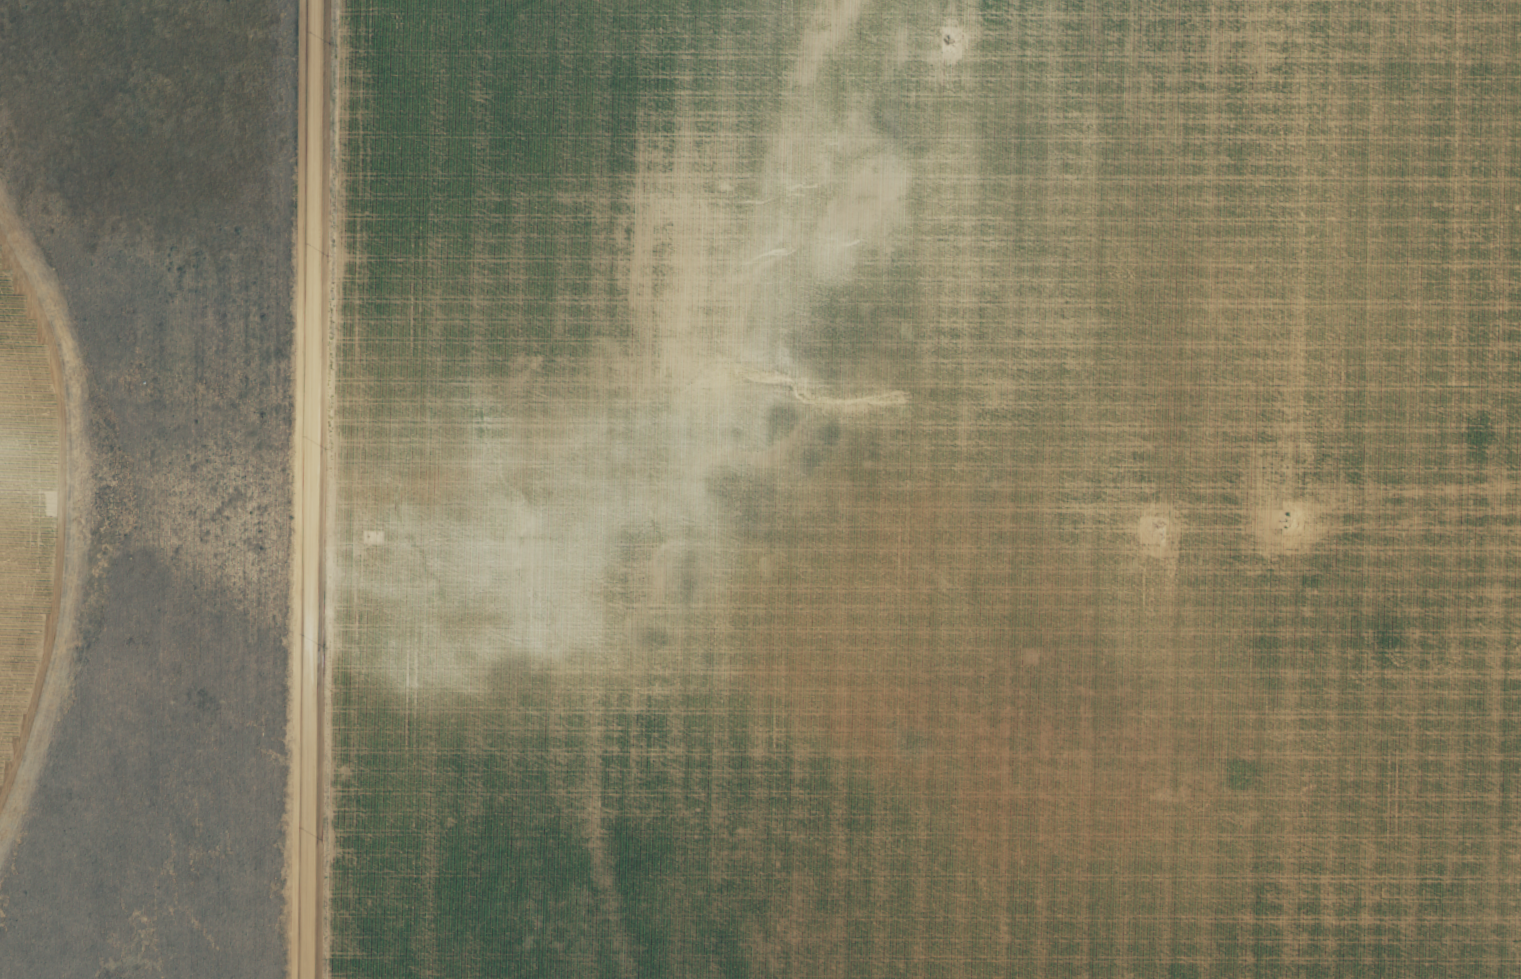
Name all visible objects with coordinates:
road: (307, 489)

